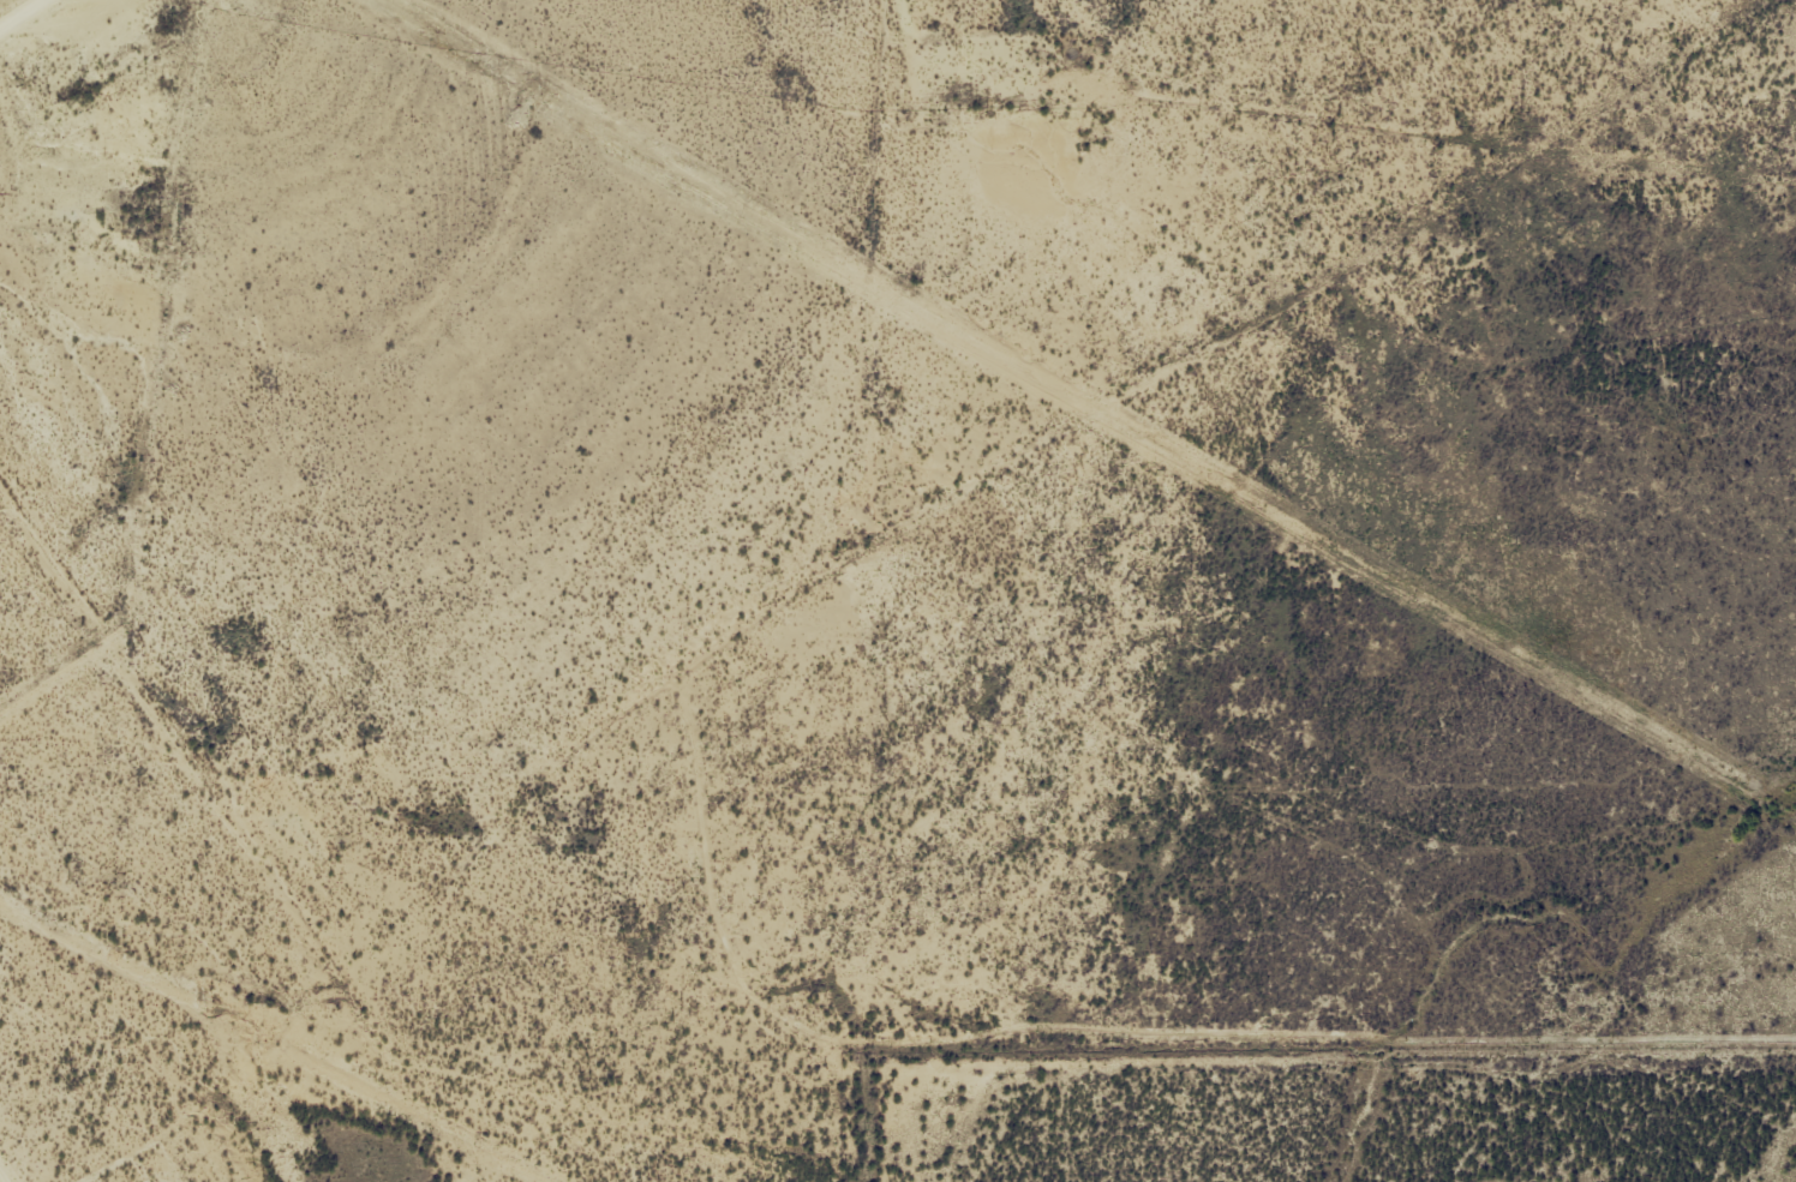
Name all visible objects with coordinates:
road: (16, 11)

